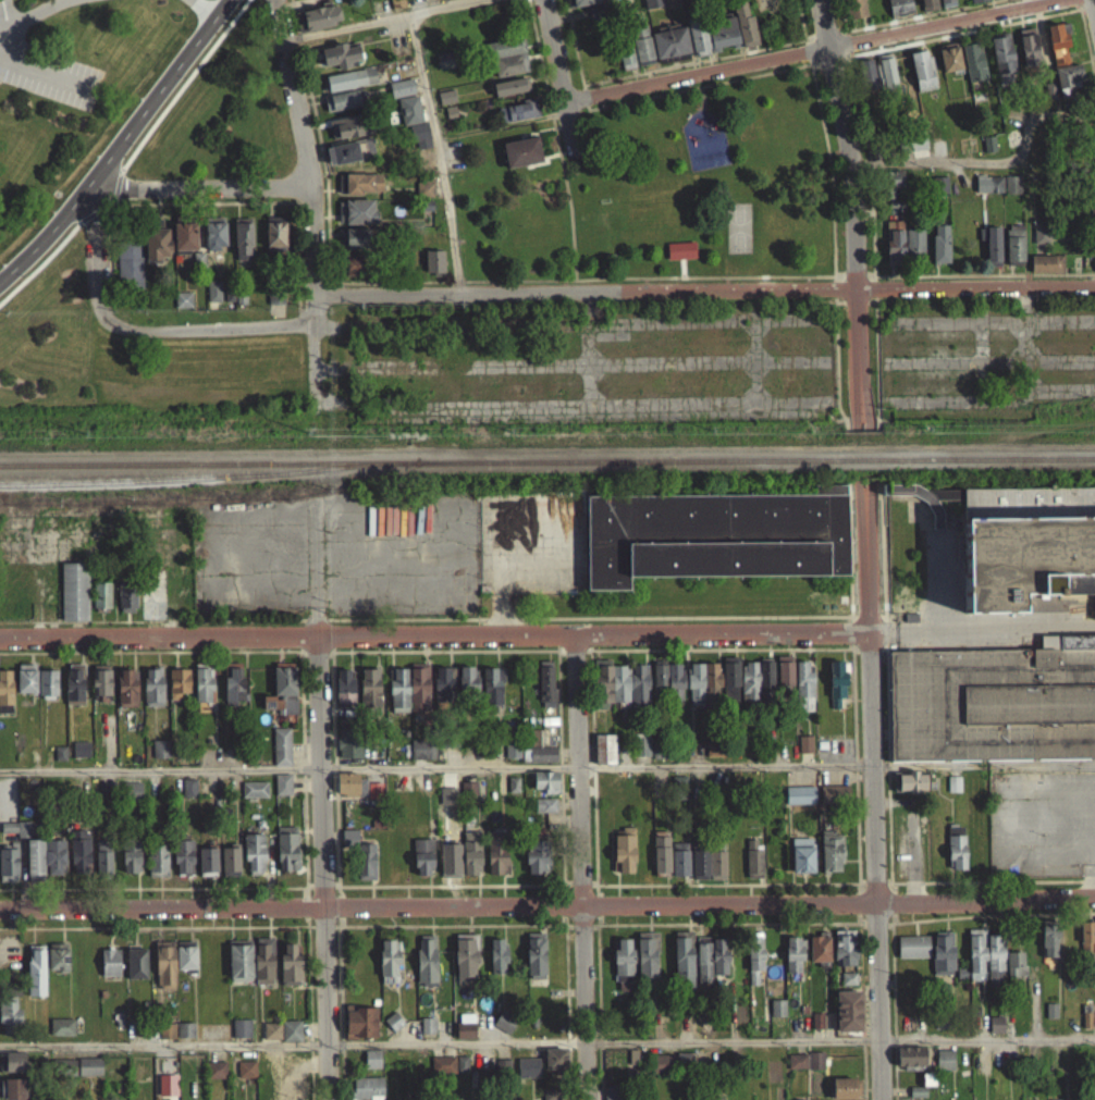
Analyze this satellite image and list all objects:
building: (297, 0)
building: (629, 0)
road: (246, 1)
building: (452, 3)
building: (977, 4)
building: (585, 5)
building: (652, 7)
building: (945, 7)
road: (204, 9)
building: (927, 9)
road: (1092, 9)
building: (899, 10)
building: (854, 12)
road: (27, 14)
building: (321, 16)
road: (292, 18)
road: (931, 20)
road: (839, 21)
road: (396, 23)
road: (819, 27)
road: (955, 27)
building: (743, 32)
road: (823, 40)
building: (722, 41)
road: (297, 44)
building: (697, 44)
road: (807, 45)
building: (507, 47)
road: (571, 48)
road: (803, 48)
building: (669, 50)
building: (641, 52)
building: (1029, 54)
road: (805, 57)
building: (445, 58)
building: (1001, 62)
building: (514, 63)
building: (625, 63)
building: (340, 64)
road: (714, 64)
building: (444, 67)
building: (949, 67)
road: (808, 69)
building: (1062, 69)
road: (45, 70)
building: (972, 70)
building: (922, 77)
building: (350, 78)
building: (886, 79)
parking lot: (47, 81)
road: (693, 82)
road: (556, 83)
building: (868, 83)
road: (541, 84)
building: (512, 86)
road: (183, 87)
building: (350, 87)
building: (403, 87)
park: (71, 91)
building: (510, 94)
building: (401, 96)
building: (446, 96)
building: (344, 99)
road: (582, 103)
road: (700, 103)
building: (445, 104)
building: (341, 108)
building: (518, 109)
building: (451, 110)
road: (1063, 113)
building: (517, 119)
building: (355, 124)
building: (343, 135)
building: (417, 140)
road: (120, 147)
building: (349, 151)
building: (910, 151)
building: (1094, 157)
building: (519, 158)
road: (434, 159)
road: (953, 160)
building: (342, 161)
building: (361, 182)
building: (426, 185)
park: (672, 189)
road: (114, 190)
building: (988, 191)
building: (939, 193)
building: (1011, 193)
building: (891, 194)
road: (197, 195)
building: (423, 195)
road: (308, 205)
building: (427, 205)
road: (111, 208)
road: (304, 209)
road: (204, 210)
building: (359, 210)
road: (106, 211)
road: (101, 212)
road: (88, 220)
road: (850, 222)
building: (1094, 224)
road: (568, 226)
road: (325, 228)
building: (217, 232)
building: (278, 232)
building: (188, 233)
park: (736, 234)
building: (245, 237)
building: (357, 237)
building: (160, 240)
building: (1041, 243)
road: (831, 244)
building: (894, 249)
road: (93, 251)
building: (913, 251)
building: (939, 251)
building: (1013, 252)
building: (992, 254)
building: (1093, 255)
building: (131, 256)
building: (679, 257)
building: (200, 258)
building: (438, 259)
building: (416, 260)
road: (106, 263)
road: (295, 263)
building: (356, 263)
building: (1094, 267)
road: (39, 269)
building: (433, 270)
building: (1046, 272)
road: (679, 274)
road: (834, 283)
road: (298, 287)
road: (311, 288)
road: (455, 288)
building: (214, 289)
road: (325, 289)
building: (230, 293)
building: (276, 293)
road: (856, 294)
building: (243, 295)
road: (833, 296)
building: (184, 298)
building: (212, 298)
road: (463, 299)
building: (227, 301)
building: (182, 307)
road: (762, 309)
road: (107, 314)
road: (102, 318)
road: (296, 325)
road: (199, 334)
road: (834, 370)
railway: (997, 457)
railway: (870, 458)
railway: (419, 460)
road: (868, 462)
road: (852, 464)
railway: (202, 477)
building: (715, 534)
building: (1022, 558)
building: (73, 600)
building: (151, 601)
building: (100, 603)
building: (126, 605)
road: (290, 618)
road: (433, 632)
road: (446, 648)
road: (150, 650)
road: (317, 654)
building: (784, 678)
building: (25, 687)
building: (729, 687)
building: (467, 688)
building: (667, 689)
building: (749, 689)
building: (47, 690)
building: (100, 690)
building: (202, 690)
building: (702, 690)
building: (177, 691)
building: (608, 691)
building: (74, 692)
building: (545, 692)
building: (639, 692)
building: (836, 692)
building: (233, 693)
building: (343, 694)
building: (442, 694)
building: (491, 694)
road: (886, 694)
building: (126, 695)
building: (152, 695)
building: (418, 695)
building: (803, 695)
building: (282, 699)
building: (369, 699)
building: (398, 699)
building: (5, 700)
building: (992, 702)
building: (533, 745)
building: (347, 751)
building: (804, 752)
building: (281, 754)
building: (640, 754)
building: (159, 756)
building: (79, 757)
building: (421, 757)
building: (512, 757)
building: (603, 757)
building: (657, 757)
building: (712, 757)
building: (59, 761)
building: (540, 763)
road: (274, 768)
road: (337, 778)
building: (909, 789)
building: (133, 790)
building: (545, 790)
building: (282, 792)
building: (356, 794)
building: (188, 795)
building: (468, 795)
building: (254, 796)
building: (130, 799)
building: (832, 802)
building: (799, 803)
building: (544, 813)
road: (873, 816)
parking lot: (996, 819)
building: (10, 826)
building: (26, 827)
building: (14, 836)
building: (347, 844)
building: (83, 849)
building: (133, 853)
building: (57, 854)
building: (956, 855)
building: (104, 856)
building: (286, 856)
building: (37, 857)
building: (623, 857)
building: (159, 858)
building: (831, 858)
building: (660, 860)
building: (254, 861)
building: (470, 861)
building: (10, 863)
building: (801, 863)
building: (495, 864)
building: (183, 865)
building: (421, 865)
road: (580, 865)
road: (322, 866)
building: (537, 866)
building: (679, 867)
building: (753, 867)
building: (207, 869)
building: (229, 869)
building: (365, 869)
building: (699, 872)
building: (716, 873)
road: (307, 875)
road: (282, 886)
road: (547, 904)
road: (283, 925)
building: (1086, 944)
building: (1048, 949)
building: (187, 953)
building: (60, 954)
building: (912, 954)
building: (844, 955)
building: (1094, 955)
building: (817, 956)
building: (266, 959)
building: (242, 960)
building: (112, 961)
building: (942, 961)
building: (994, 961)
building: (647, 962)
building: (139, 963)
building: (167, 963)
building: (536, 963)
building: (793, 963)
building: (974, 963)
building: (293, 964)
building: (496, 964)
building: (718, 964)
building: (754, 964)
building: (682, 966)
building: (465, 967)
building: (426, 968)
building: (389, 969)
building: (623, 972)
building: (1014, 972)
building: (35, 978)
building: (848, 986)
road: (343, 1012)
building: (11, 1014)
building: (777, 1015)
building: (847, 1018)
building: (1050, 1018)
building: (64, 1025)
building: (244, 1026)
building: (187, 1027)
building: (1085, 1027)
building: (169, 1028)
building: (294, 1028)
building: (274, 1029)
building: (393, 1029)
building: (359, 1030)
building: (504, 1030)
building: (995, 1031)
building: (427, 1034)
building: (61, 1035)
building: (241, 1036)
building: (184, 1037)
building: (291, 1038)
building: (464, 1038)
road: (988, 1038)
building: (271, 1039)
road: (731, 1040)
road: (291, 1045)
building: (373, 1058)
building: (14, 1061)
building: (464, 1063)
building: (910, 1064)
building: (91, 1065)
building: (65, 1066)
building: (530, 1066)
building: (554, 1066)
building: (371, 1067)
building: (944, 1067)
building: (218, 1068)
building: (804, 1068)
building: (12, 1071)
building: (666, 1071)
building: (442, 1073)
building: (76, 1075)
building: (501, 1075)
building: (528, 1075)
building: (214, 1077)
building: (245, 1077)
building: (170, 1084)
building: (368, 1087)
building: (14, 1088)
building: (842, 1092)
building: (550, 1096)
building: (612, 1097)

